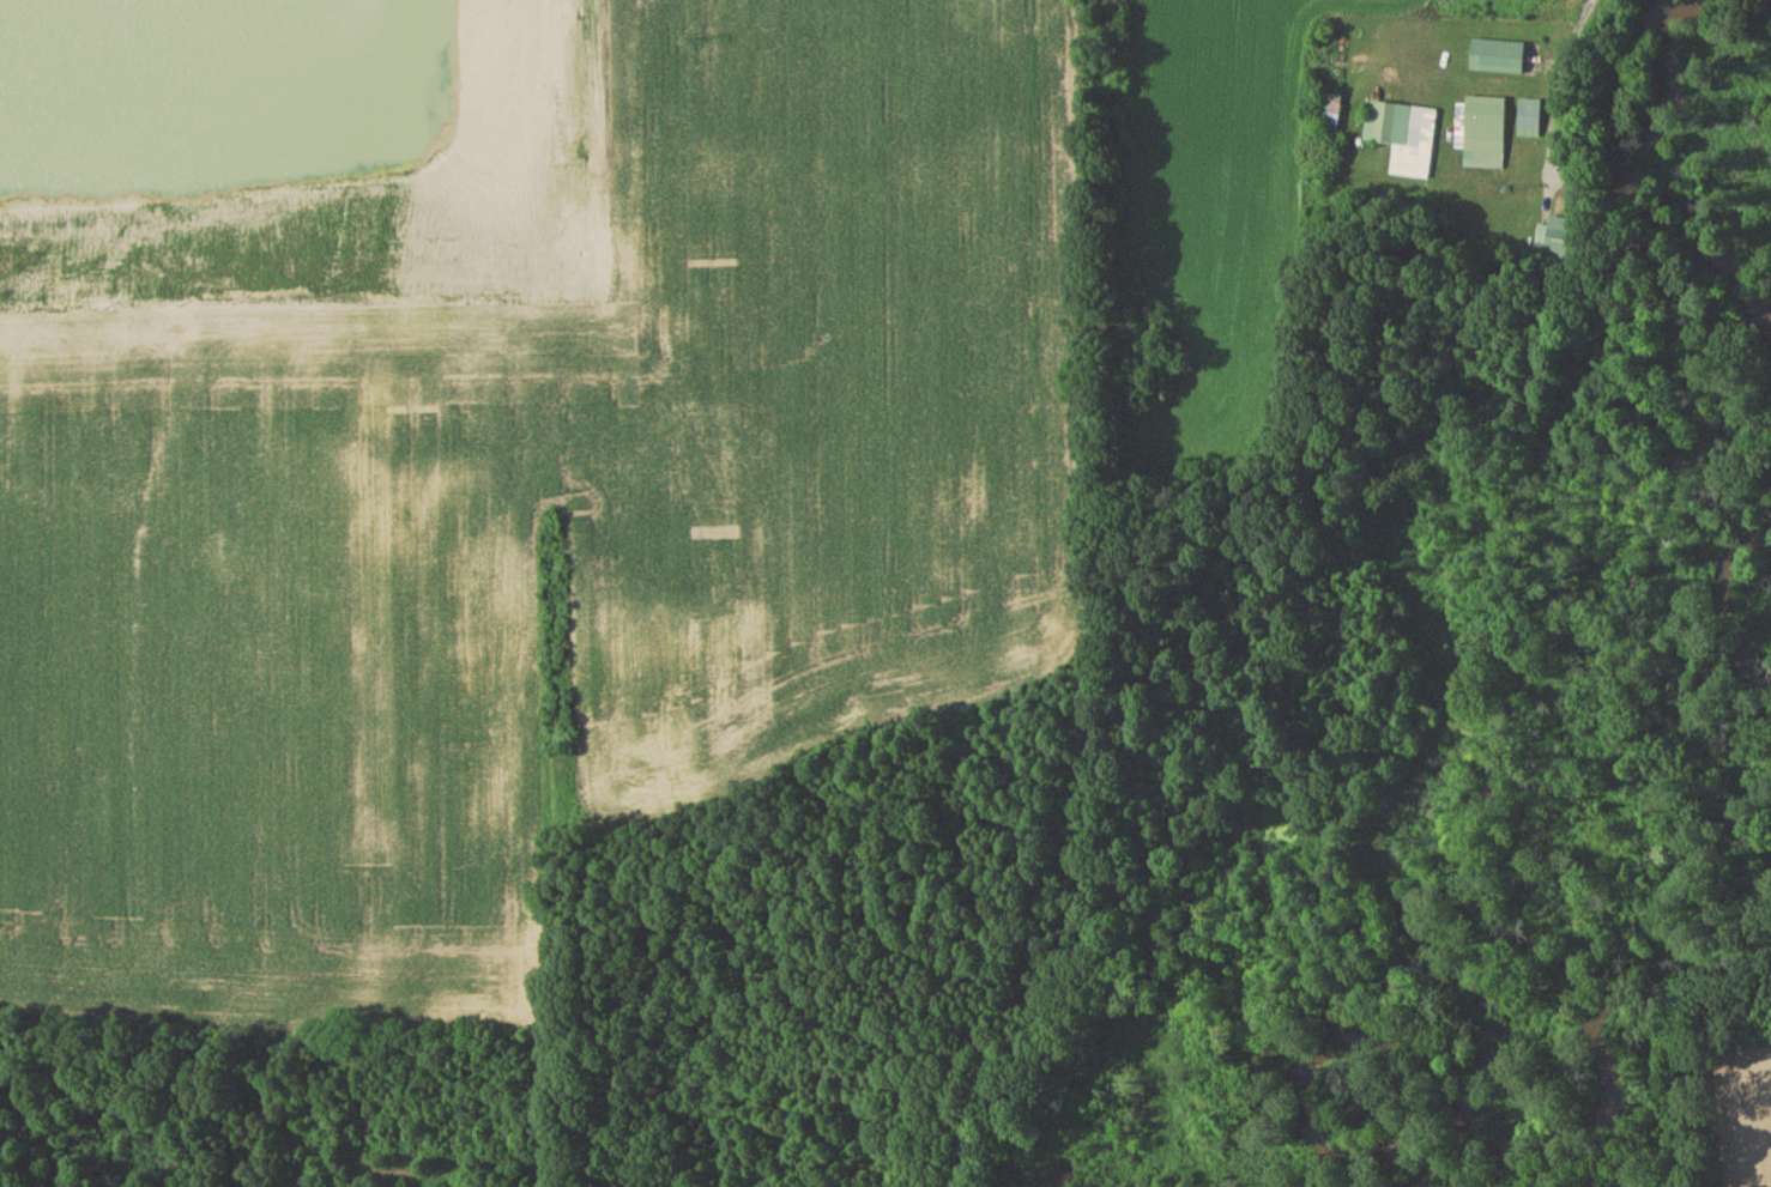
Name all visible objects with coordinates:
building: (1499, 59)
road: (1566, 71)
building: (1330, 111)
building: (1530, 121)
building: (1486, 134)
building: (1403, 138)
building: (1560, 240)

